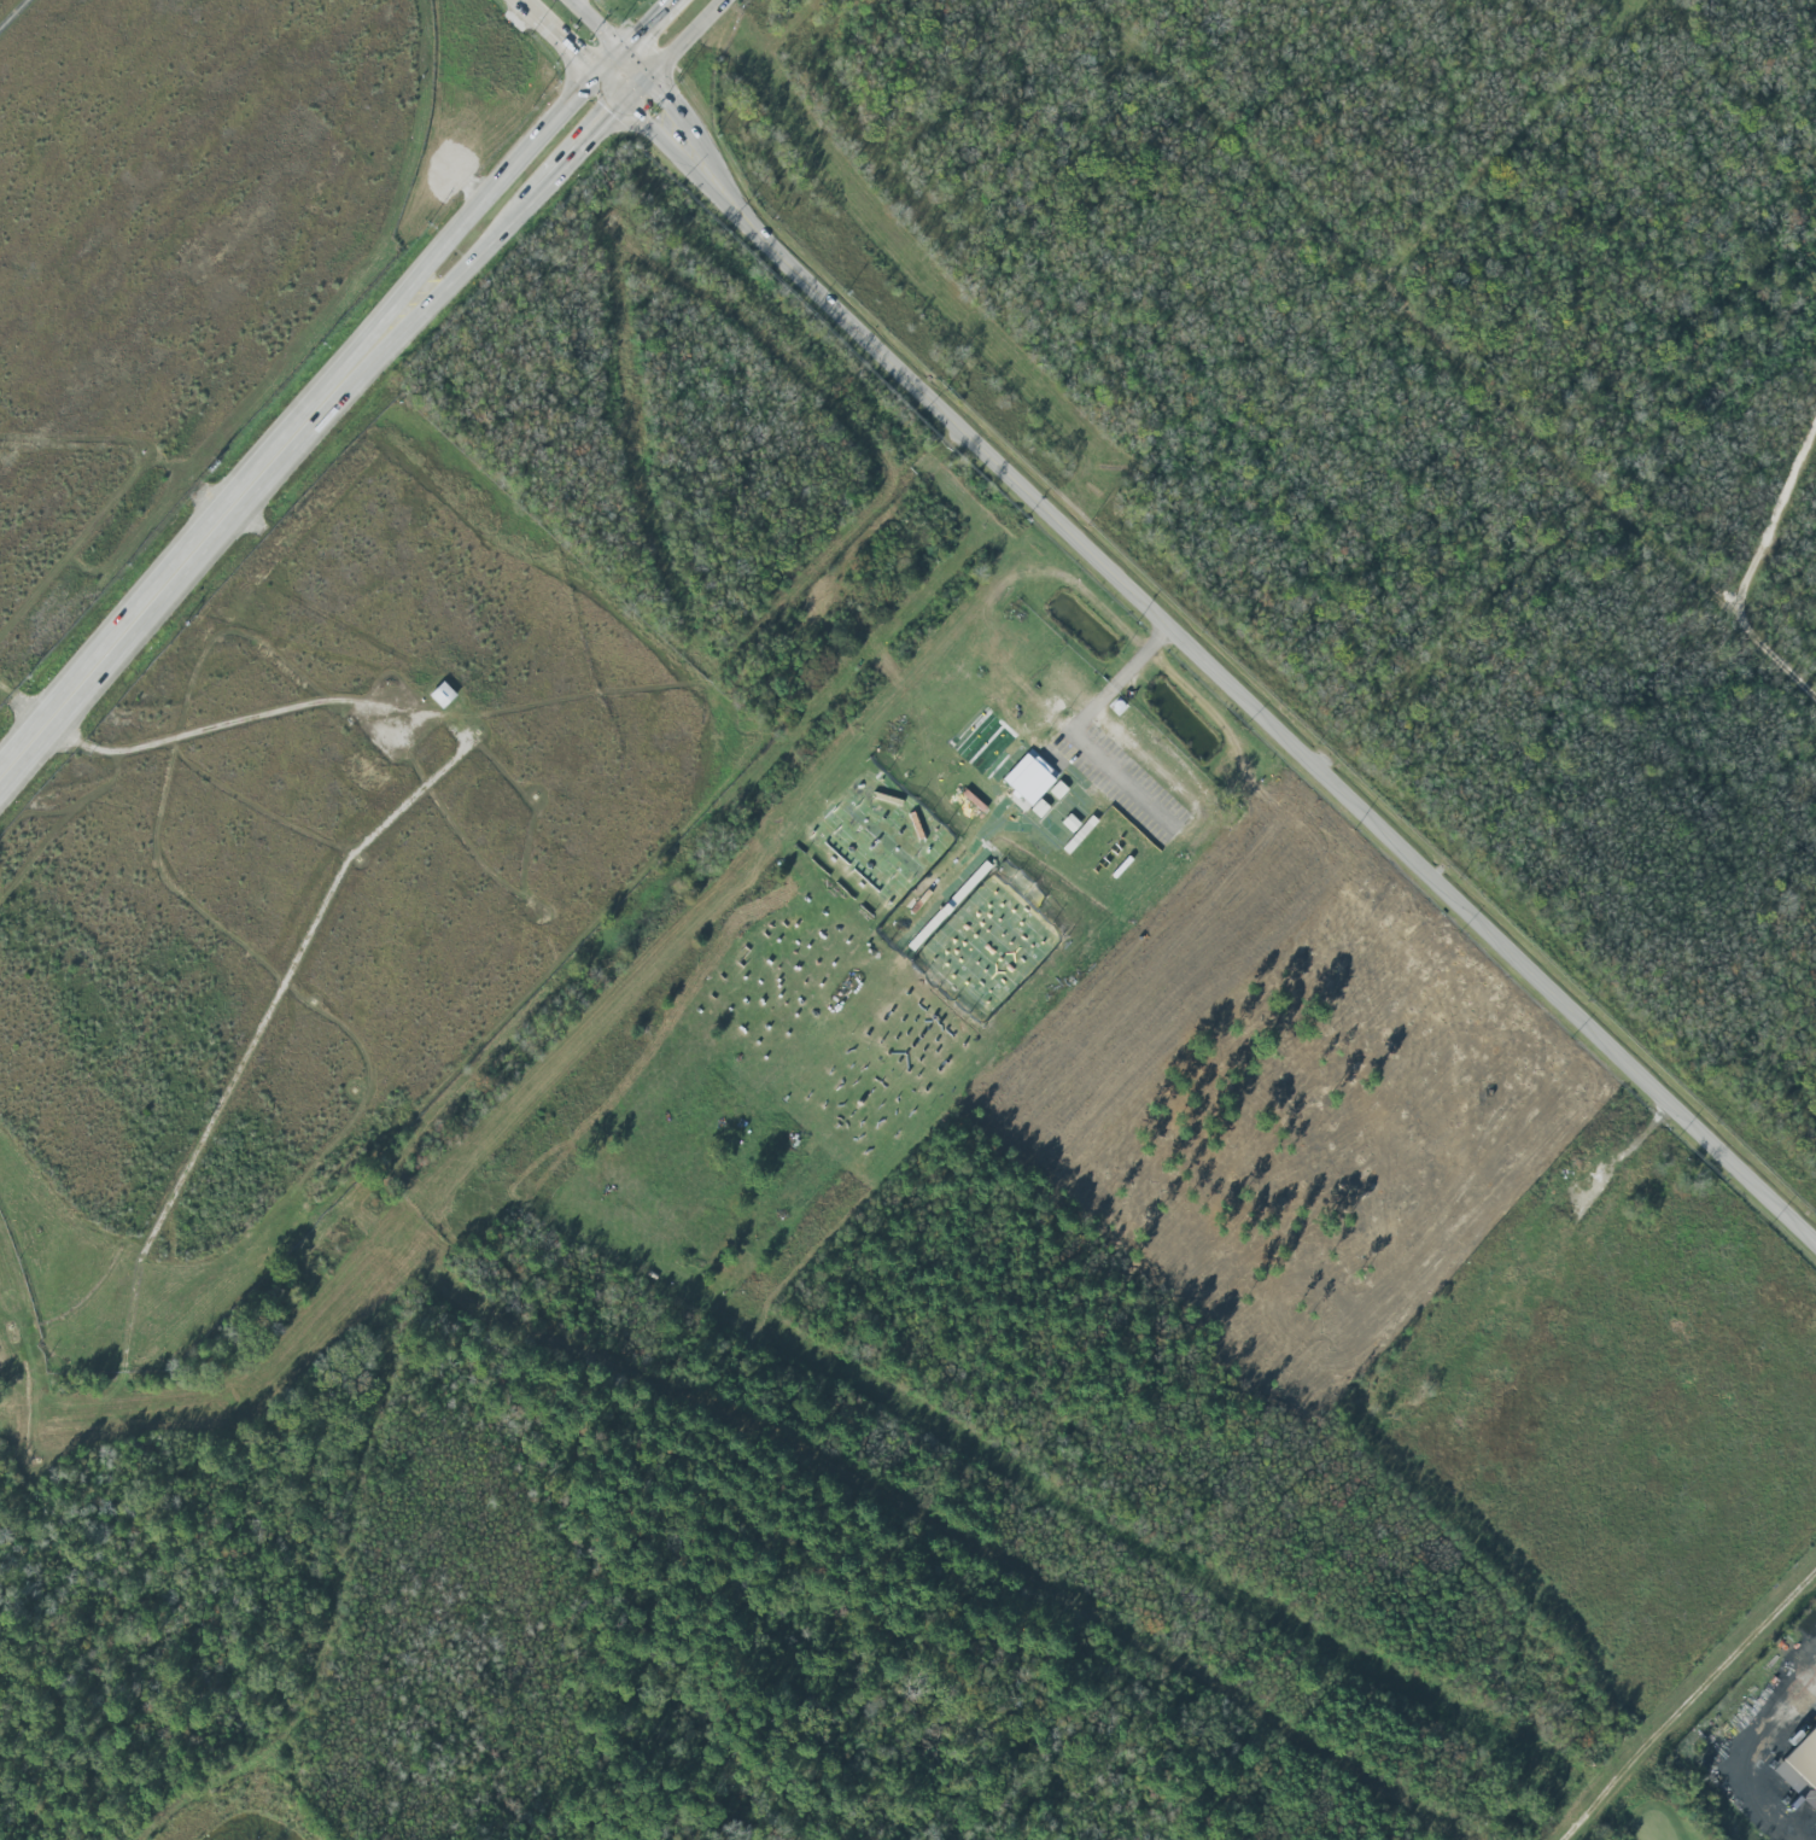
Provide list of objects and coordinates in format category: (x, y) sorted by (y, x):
road: (521, 11)
road: (12, 12)
road: (609, 21)
road: (650, 21)
road: (565, 52)
road: (671, 52)
road: (646, 54)
road: (614, 62)
road: (683, 93)
road: (611, 94)
road: (579, 153)
road: (679, 154)
road: (720, 162)
road: (1432, 230)
road: (1507, 369)
road: (296, 419)
road: (263, 491)
road: (1779, 528)
road: (1779, 650)
building: (442, 695)
road: (246, 718)
road: (1274, 720)
building: (1028, 778)
road: (1684, 1705)
park: (1637, 1770)
building: (1800, 1771)
road: (1752, 1772)

